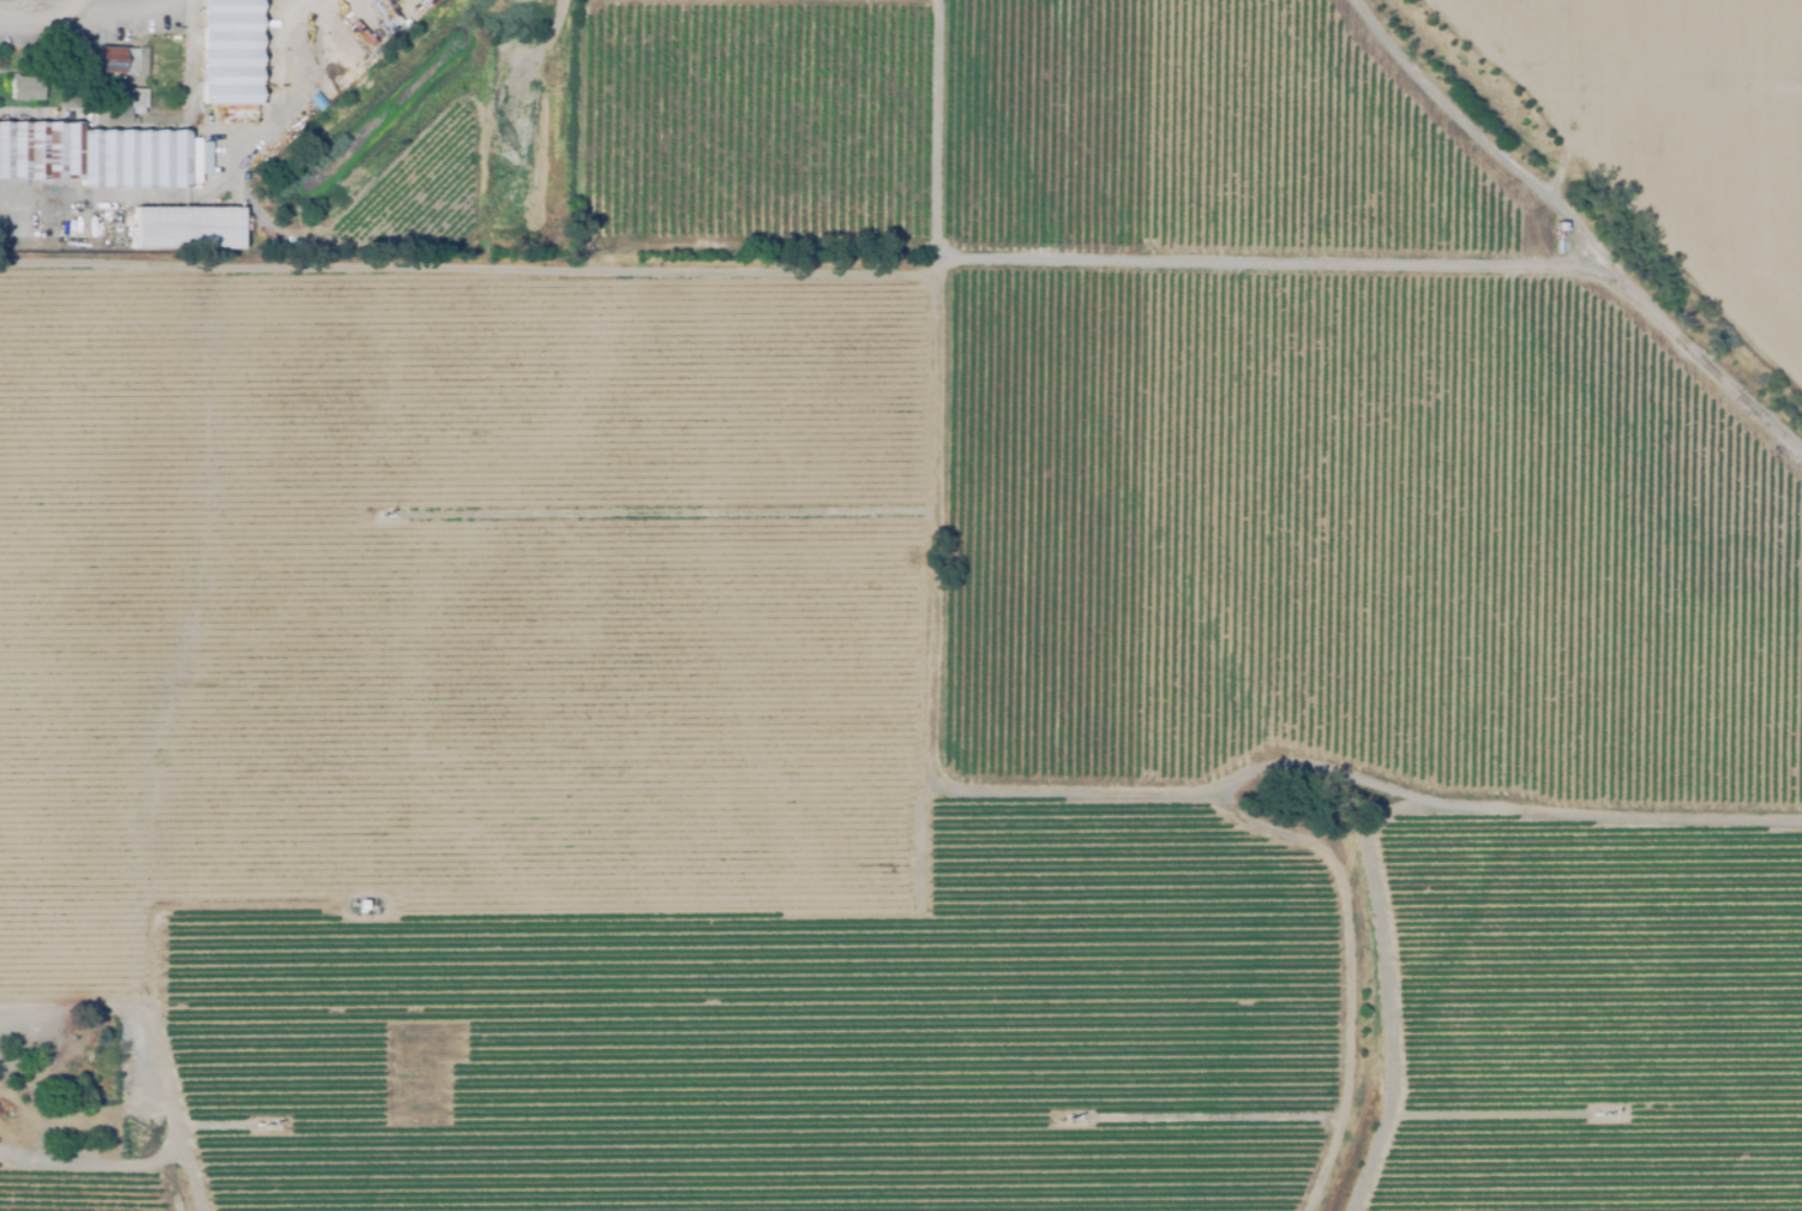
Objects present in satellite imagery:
road: (37, 13)
building: (228, 53)
building: (119, 61)
road: (290, 82)
building: (24, 89)
building: (121, 110)
road: (1478, 137)
building: (92, 157)
building: (1557, 227)
building: (186, 229)
road: (1146, 260)
road: (1705, 358)
building: (360, 904)
building: (4, 1099)
building: (77, 1128)
building: (19, 1134)

